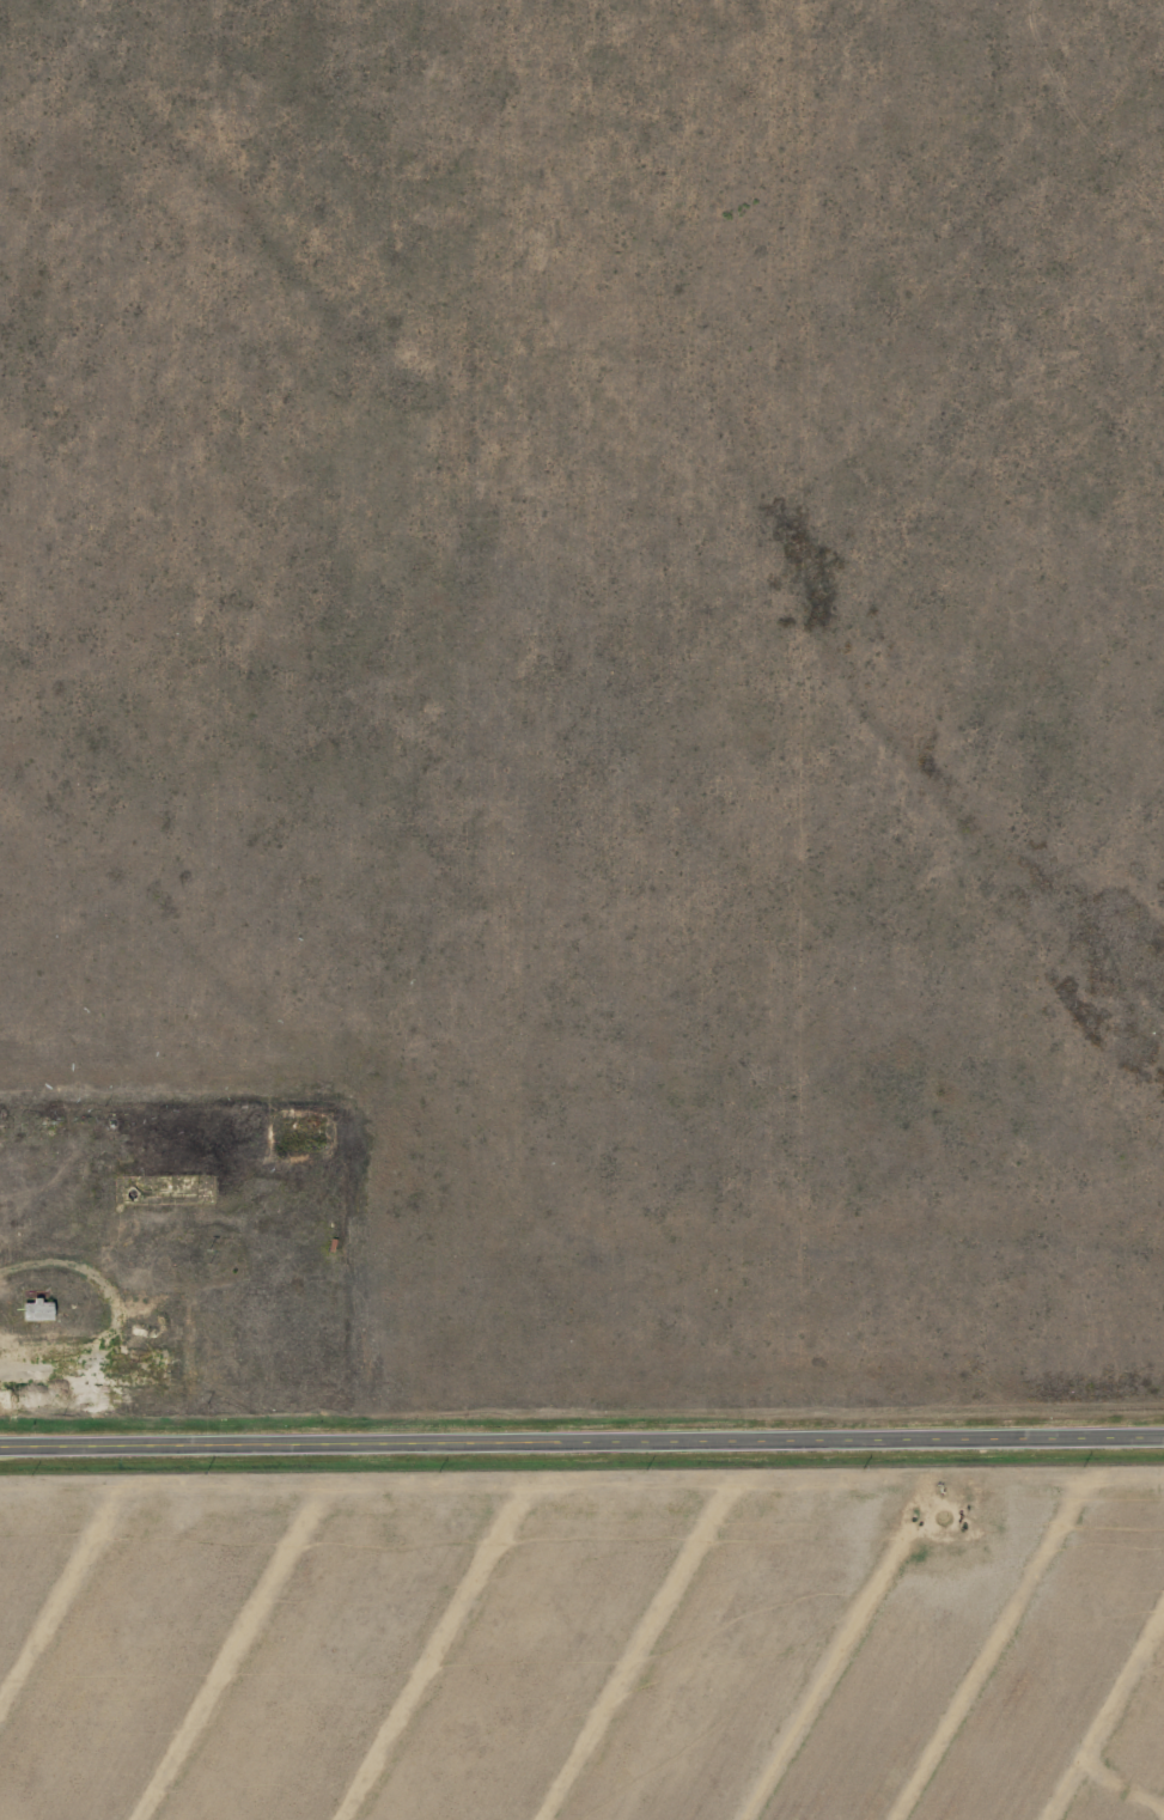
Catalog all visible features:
building: (35, 1311)
road: (581, 1450)

